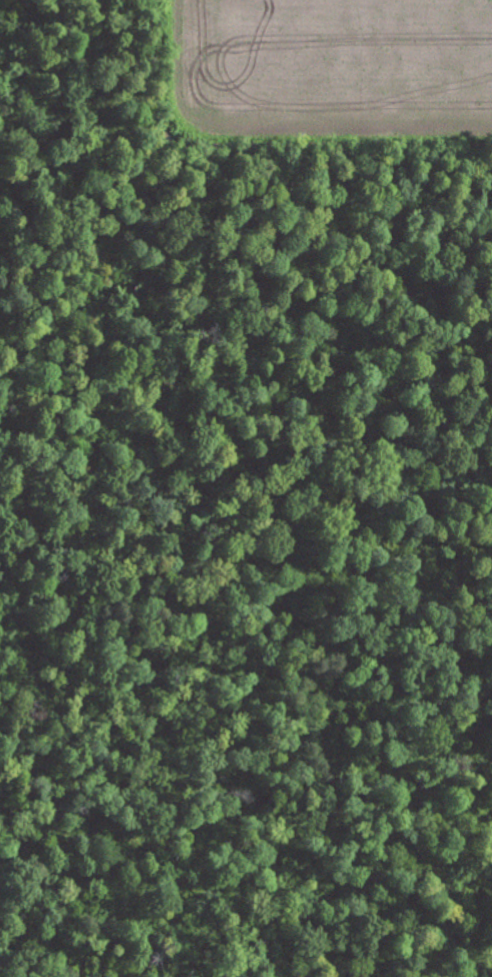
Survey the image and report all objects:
park: (236, 540)

